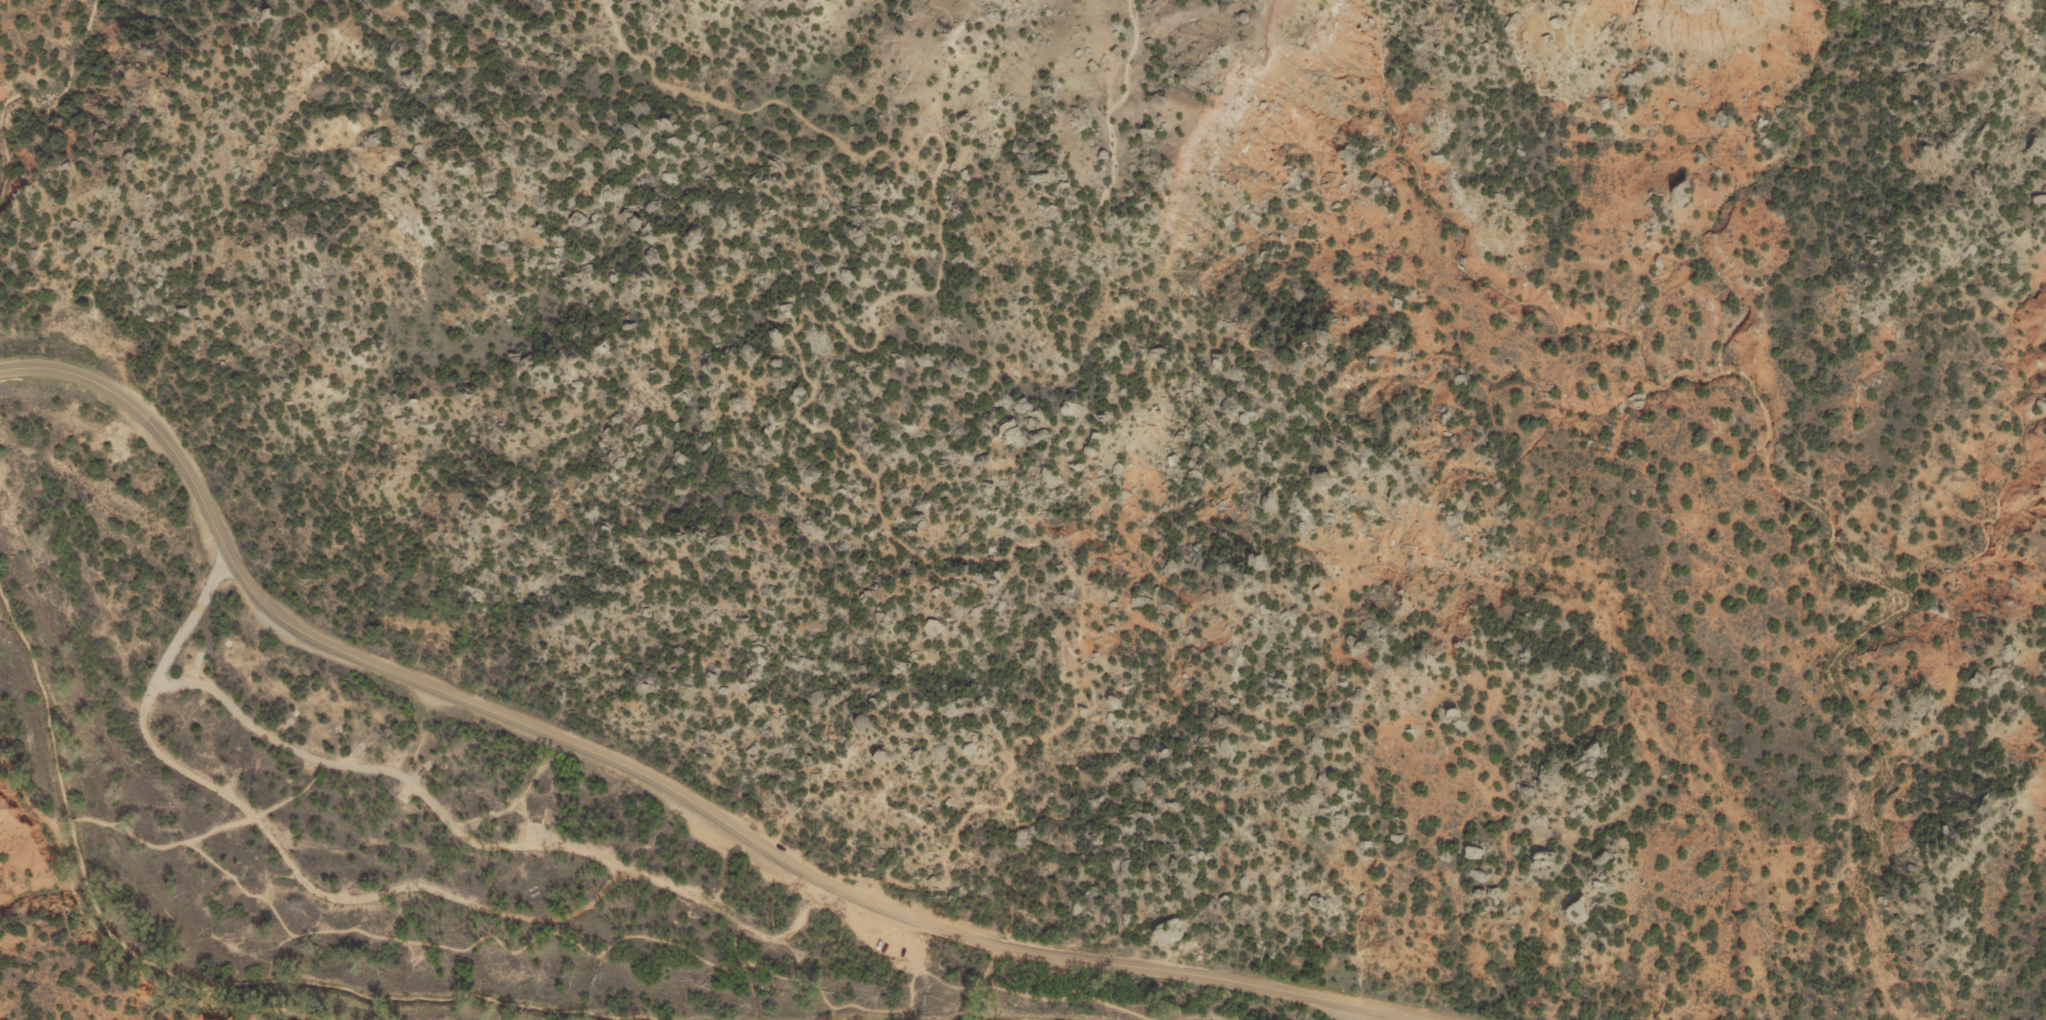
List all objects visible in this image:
road: (833, 435)
road: (663, 787)
building: (535, 808)
road: (70, 821)
road: (51, 824)
road: (487, 842)
road: (278, 850)
road: (618, 941)
road: (113, 951)
river: (201, 989)
river: (983, 1015)
river: (835, 1018)

